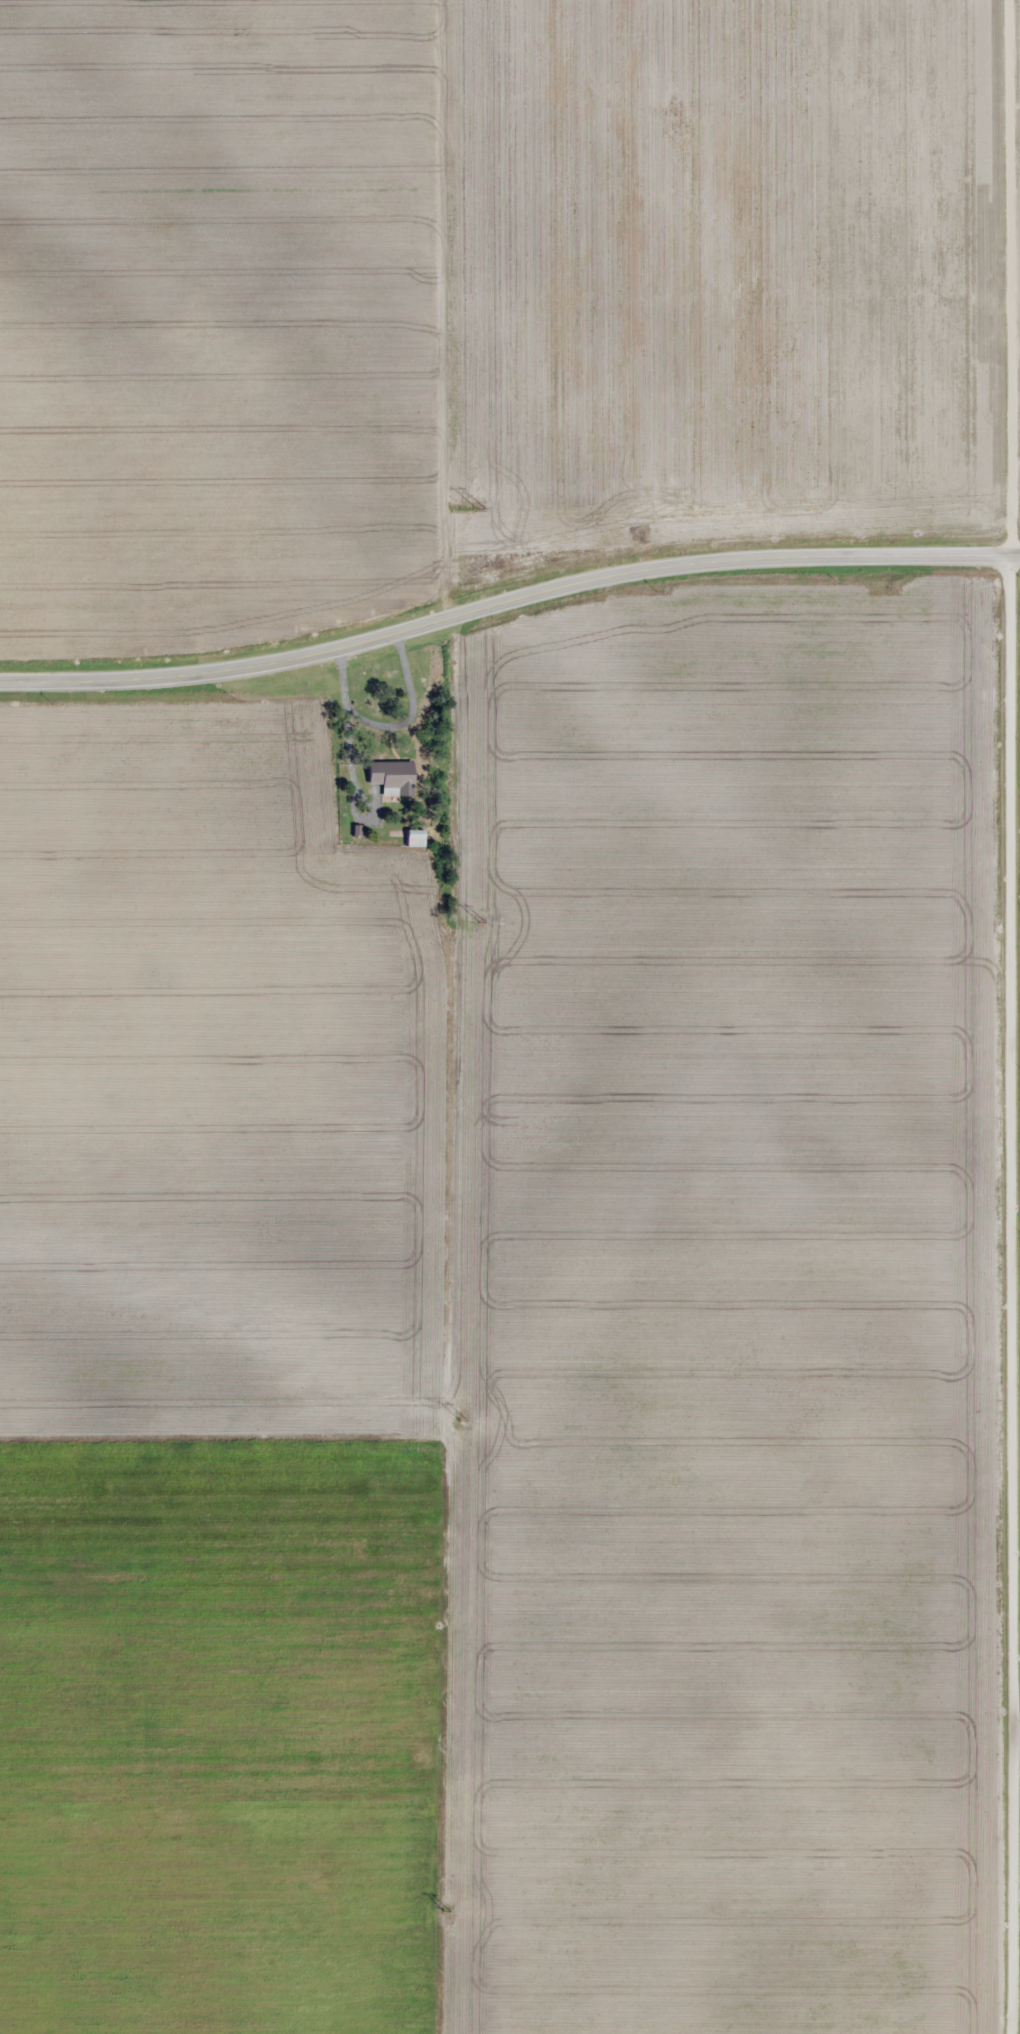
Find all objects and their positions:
power tower: (479, 509)
road: (506, 600)
building: (391, 778)
building: (414, 839)
power tower: (481, 922)
road: (1010, 1016)
power tower: (463, 1420)
power tower: (445, 1911)

